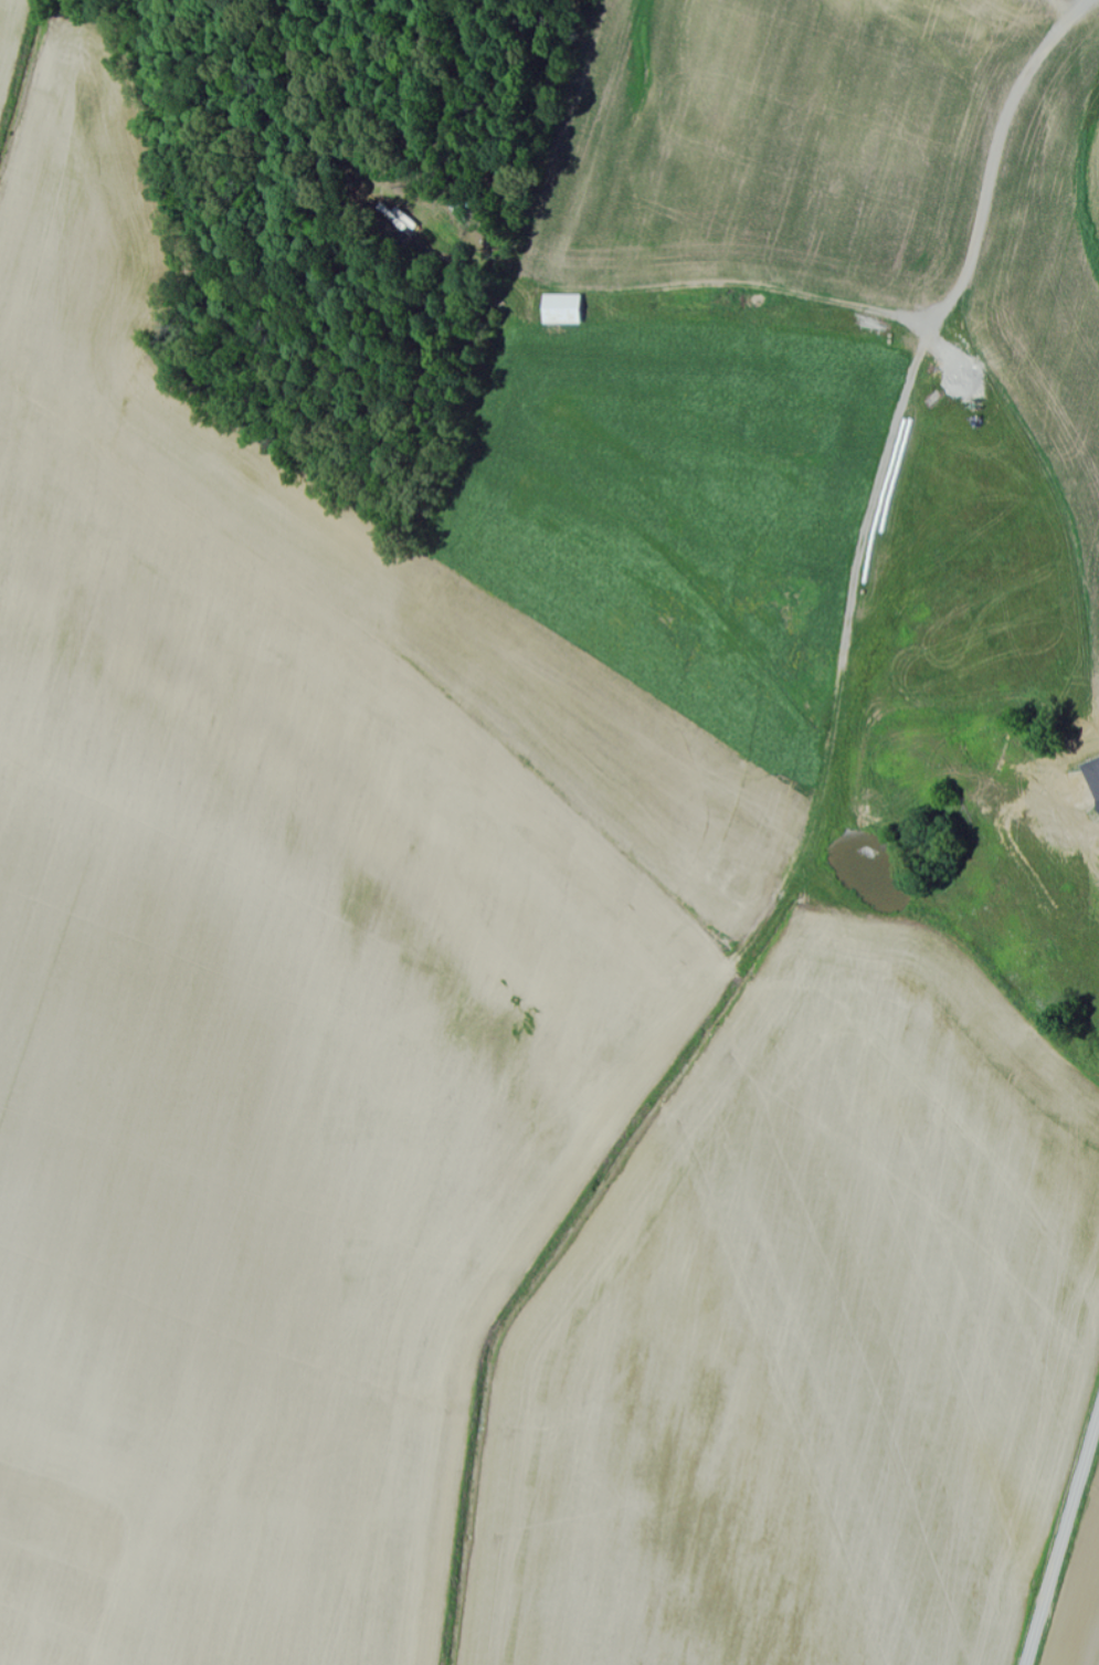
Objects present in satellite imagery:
building: (571, 310)
road: (1063, 1540)

